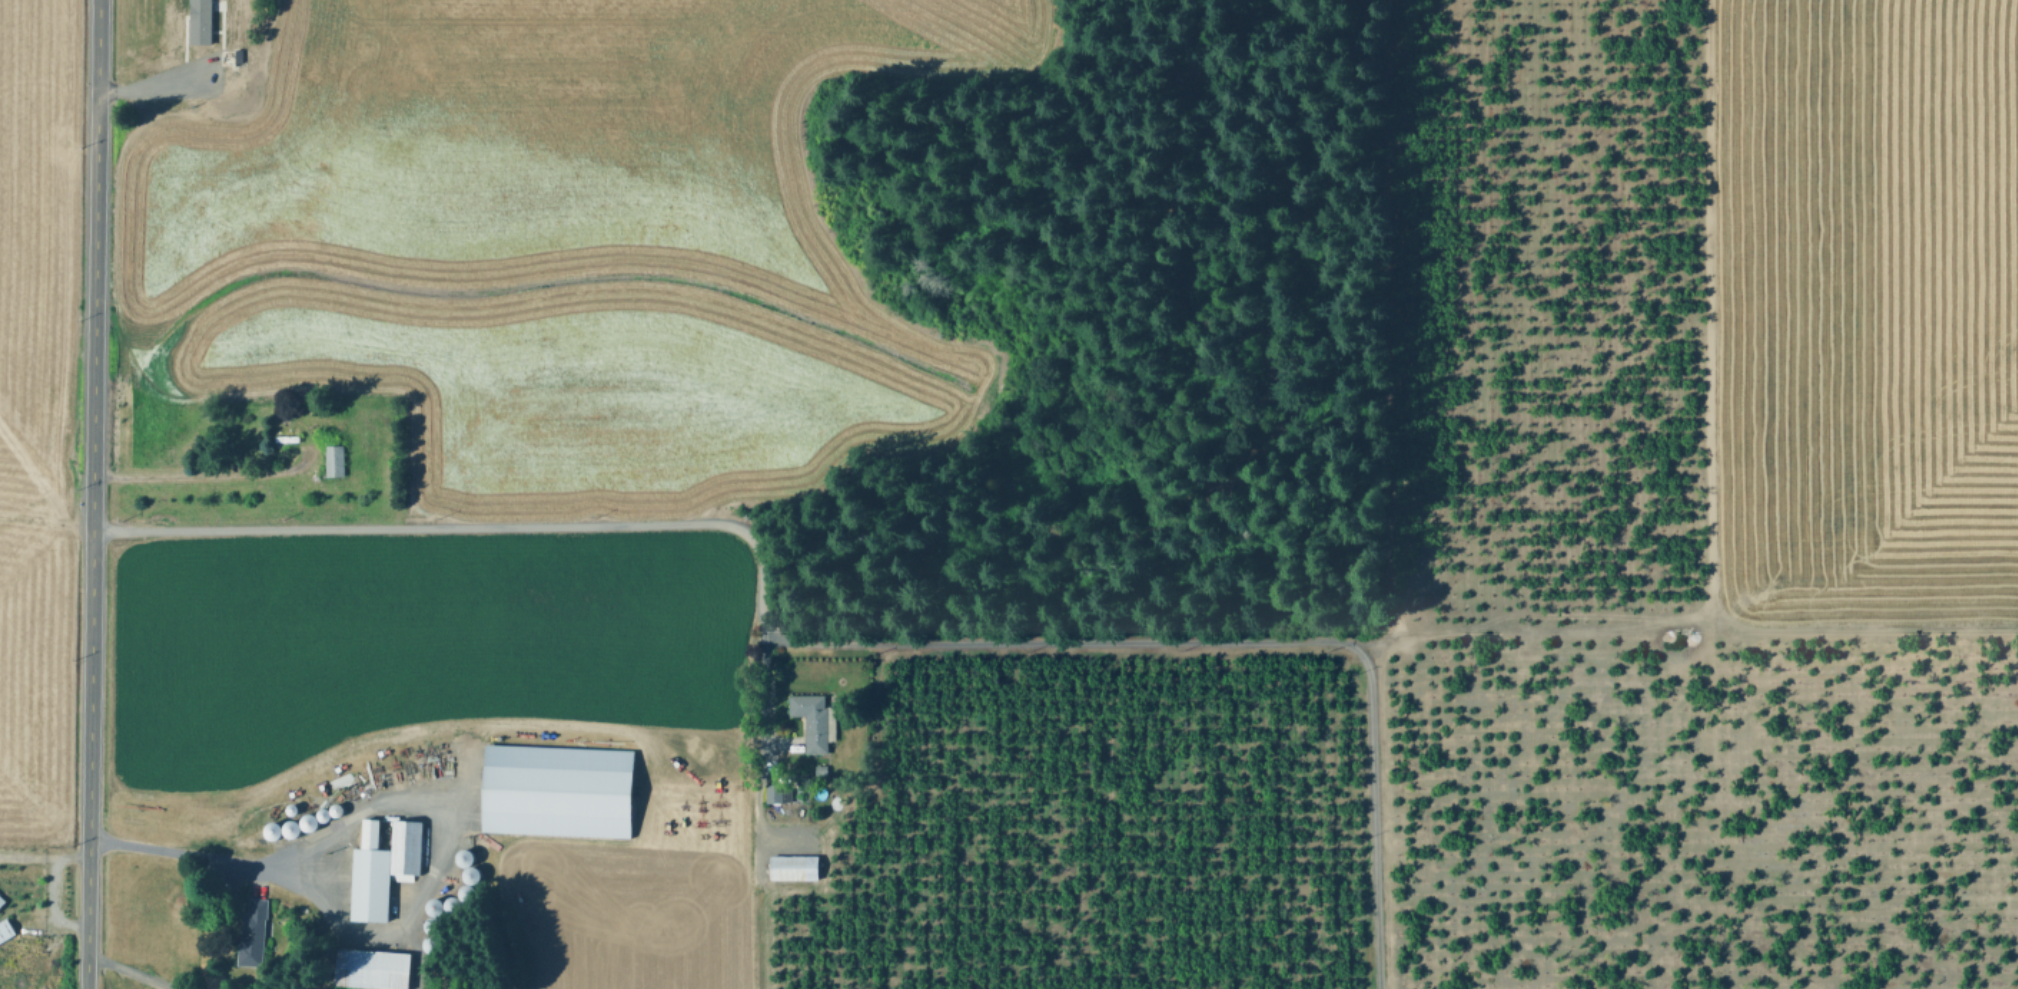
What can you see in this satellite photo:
building: (204, 24)
building: (242, 58)
road: (205, 65)
crop: (1869, 311)
crop: (35, 410)
building: (336, 461)
road: (202, 474)
road: (92, 494)
road: (1682, 633)
road: (846, 652)
building: (815, 721)
road: (746, 732)
building: (559, 791)
building: (775, 794)
road: (432, 798)
building: (288, 809)
silo: (288, 809)
building: (333, 810)
silo: (333, 810)
building: (319, 814)
silo: (319, 814)
building: (305, 823)
silo: (305, 823)
building: (288, 830)
silo: (288, 830)
building: (268, 831)
silo: (268, 831)
road: (44, 853)
building: (459, 858)
silo: (459, 858)
building: (384, 867)
building: (789, 868)
road: (286, 871)
building: (468, 875)
silo: (468, 875)
building: (463, 893)
silo: (463, 893)
building: (2, 901)
road: (50, 903)
building: (431, 906)
silo: (431, 906)
building: (451, 906)
silo: (451, 906)
road: (759, 914)
building: (429, 924)
silo: (429, 924)
building: (6, 931)
building: (254, 934)
building: (429, 944)
silo: (429, 944)
building: (375, 969)
road: (130, 971)

